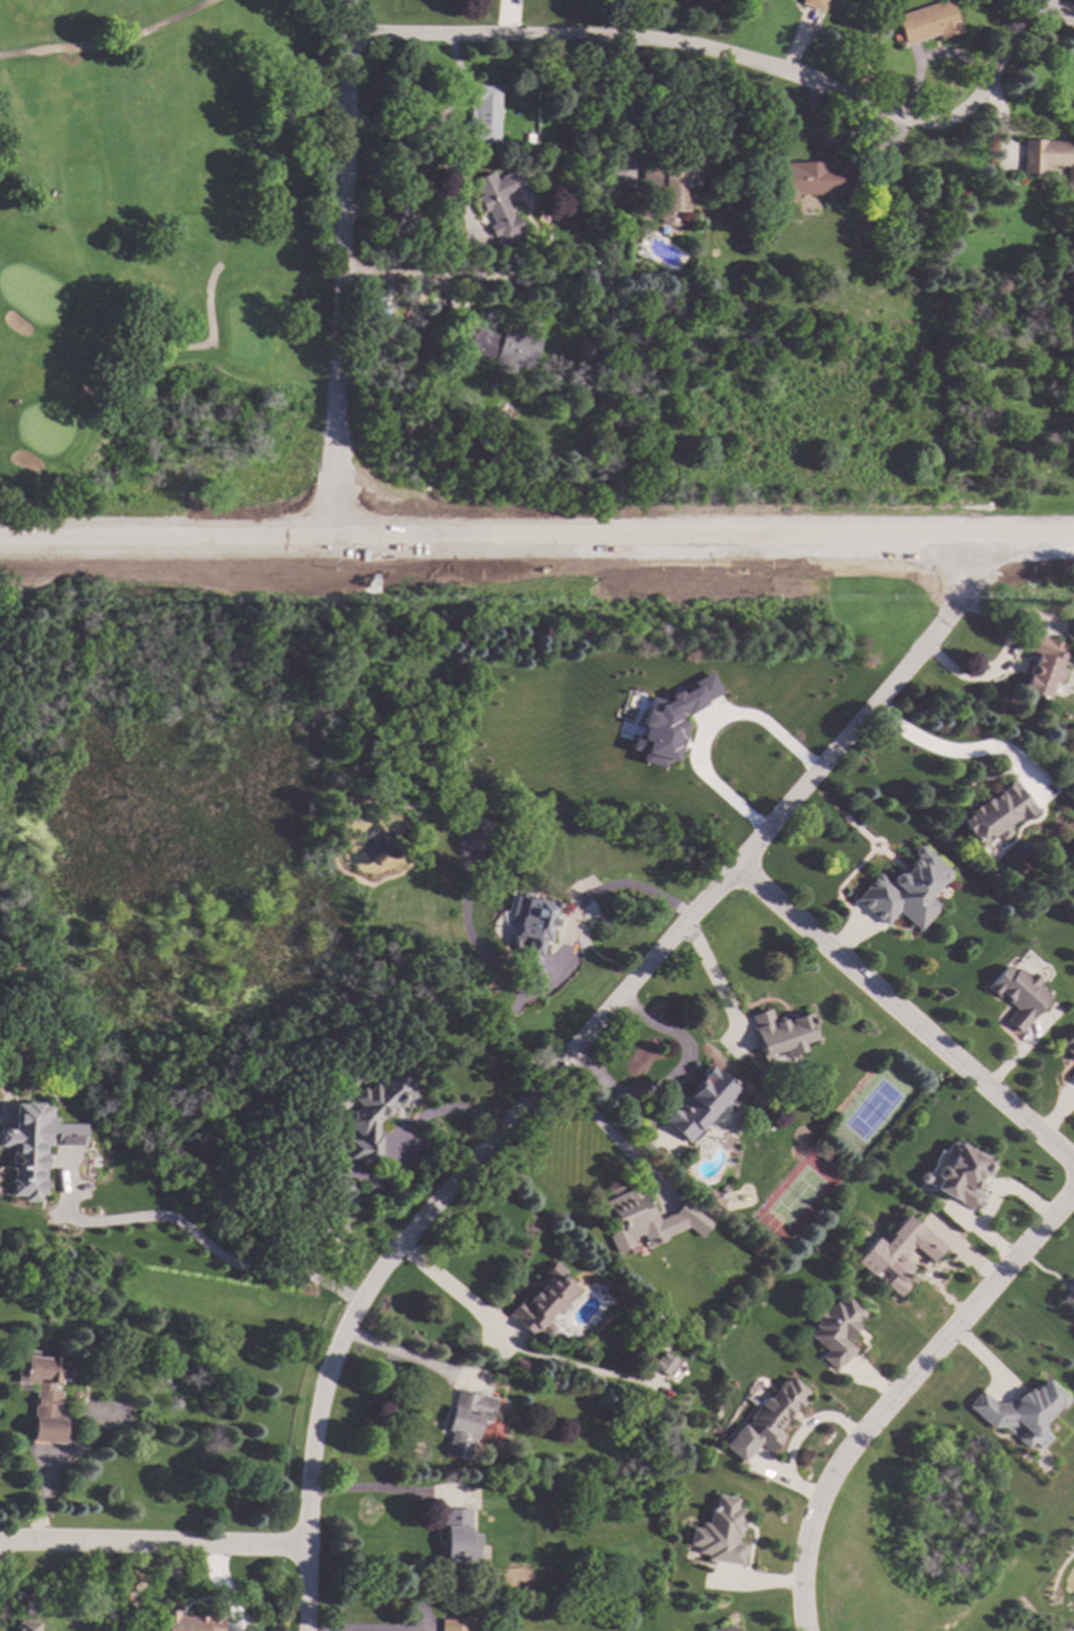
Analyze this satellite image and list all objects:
building: (812, 3)
road: (1054, 8)
building: (927, 22)
road: (659, 34)
building: (895, 36)
road: (112, 44)
road: (994, 62)
building: (484, 111)
road: (440, 120)
building: (590, 145)
building: (1048, 156)
building: (810, 179)
building: (668, 189)
building: (498, 206)
park: (151, 226)
road: (442, 246)
building: (559, 249)
building: (162, 254)
park: (164, 257)
road: (343, 272)
road: (411, 279)
building: (523, 287)
road: (208, 331)
building: (505, 344)
building: (569, 412)
road: (537, 540)
road: (998, 660)
building: (1042, 665)
building: (1033, 705)
building: (668, 722)
road: (708, 726)
road: (959, 751)
building: (997, 812)
building: (474, 833)
building: (505, 860)
building: (997, 868)
road: (602, 891)
building: (907, 891)
building: (532, 931)
road: (653, 957)
road: (713, 980)
building: (1016, 995)
road: (904, 1015)
building: (781, 1032)
building: (1069, 1046)
road: (687, 1051)
building: (1072, 1074)
road: (617, 1100)
building: (699, 1103)
building: (375, 1115)
road: (420, 1121)
road: (609, 1135)
building: (33, 1147)
building: (960, 1175)
building: (926, 1178)
building: (344, 1189)
building: (641, 1219)
road: (188, 1228)
building: (896, 1252)
building: (542, 1299)
building: (1066, 1302)
building: (834, 1330)
road: (513, 1346)
building: (664, 1362)
road: (897, 1392)
building: (43, 1395)
building: (1019, 1410)
building: (765, 1419)
building: (466, 1420)
road: (60, 1472)
road: (380, 1491)
road: (308, 1503)
building: (719, 1533)
building: (458, 1536)
road: (153, 1541)
road: (224, 1586)
building: (190, 1620)
building: (601, 1620)
building: (454, 1623)
building: (25, 1626)
building: (720, 1628)
road: (414, 1629)
road: (331, 1630)

